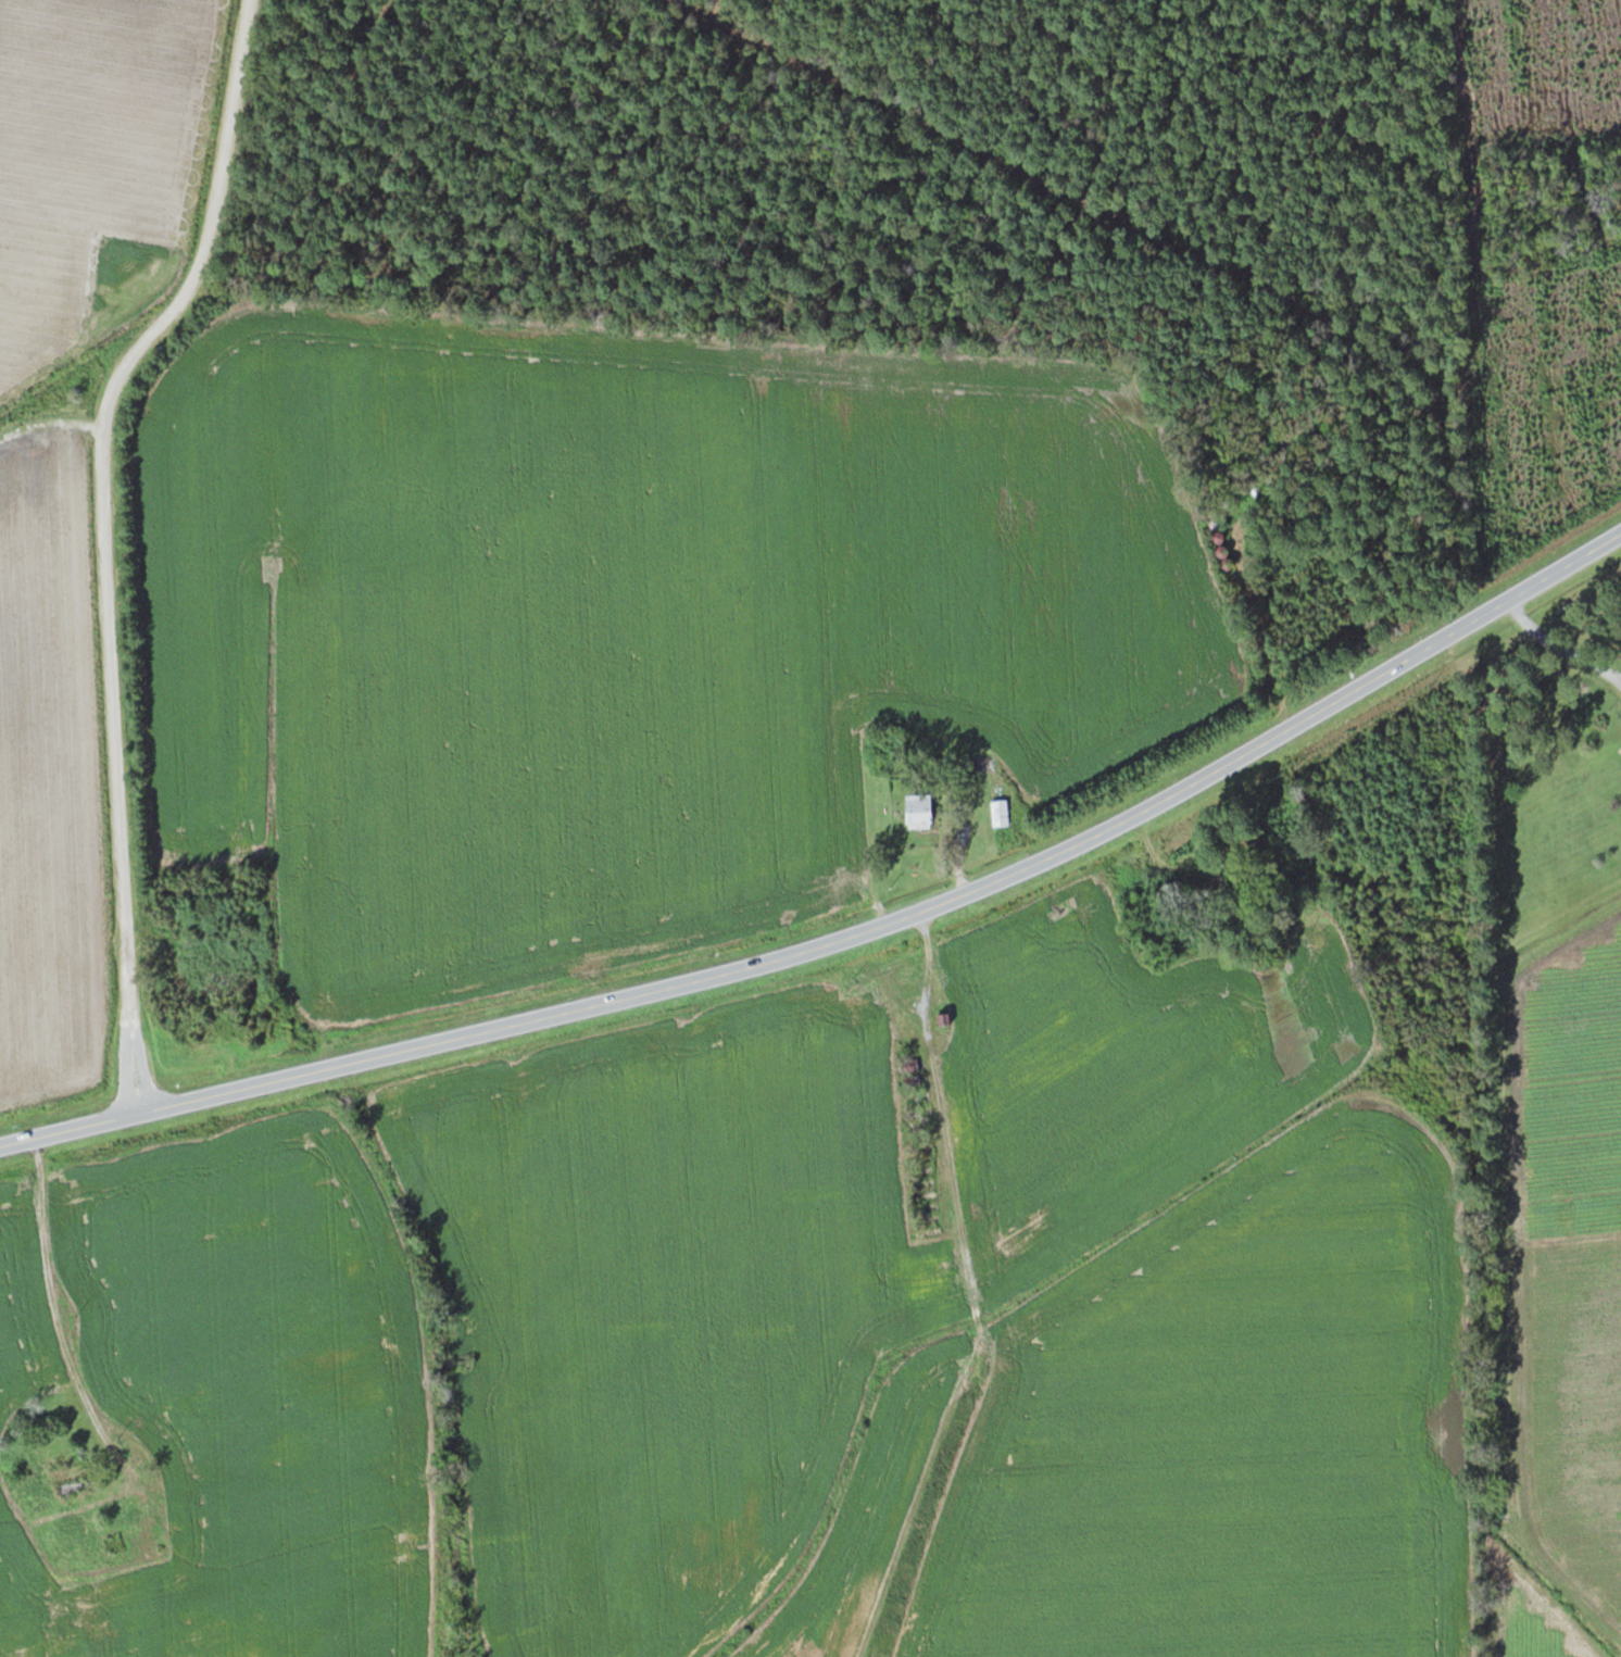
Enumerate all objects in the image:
road: (104, 540)
building: (927, 806)
building: (1001, 812)
road: (847, 936)
building: (943, 1018)
building: (73, 1472)

